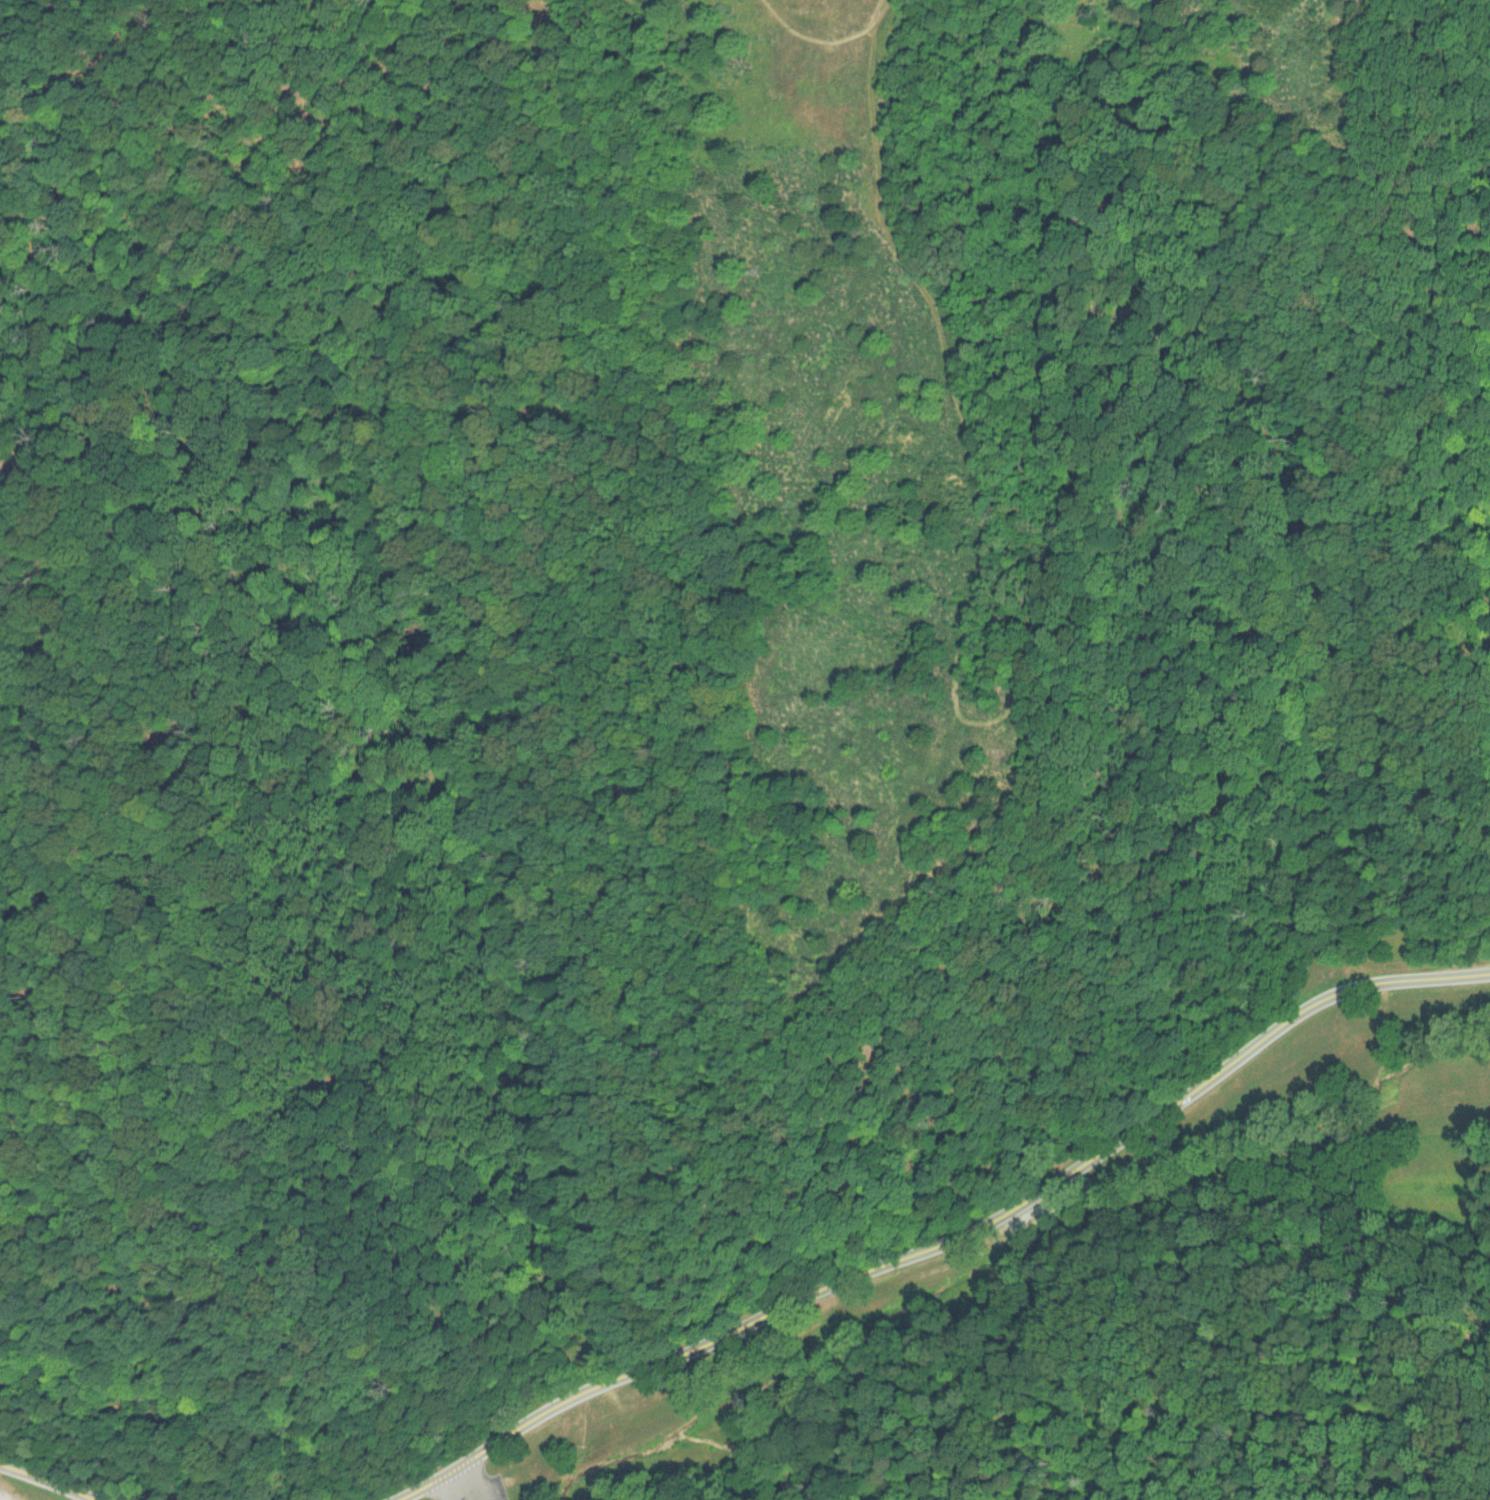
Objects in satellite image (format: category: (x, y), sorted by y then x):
road: (878, 11)
road: (819, 33)
road: (1357, 193)
road: (1157, 213)
road: (956, 400)
road: (1415, 553)
road: (1292, 671)
road: (13, 1006)
road: (245, 1044)
road: (945, 1238)
road: (1013, 1251)
road: (57, 1347)
road: (55, 1376)
road: (48, 1482)
road: (449, 1483)
parking lot: (477, 1490)

